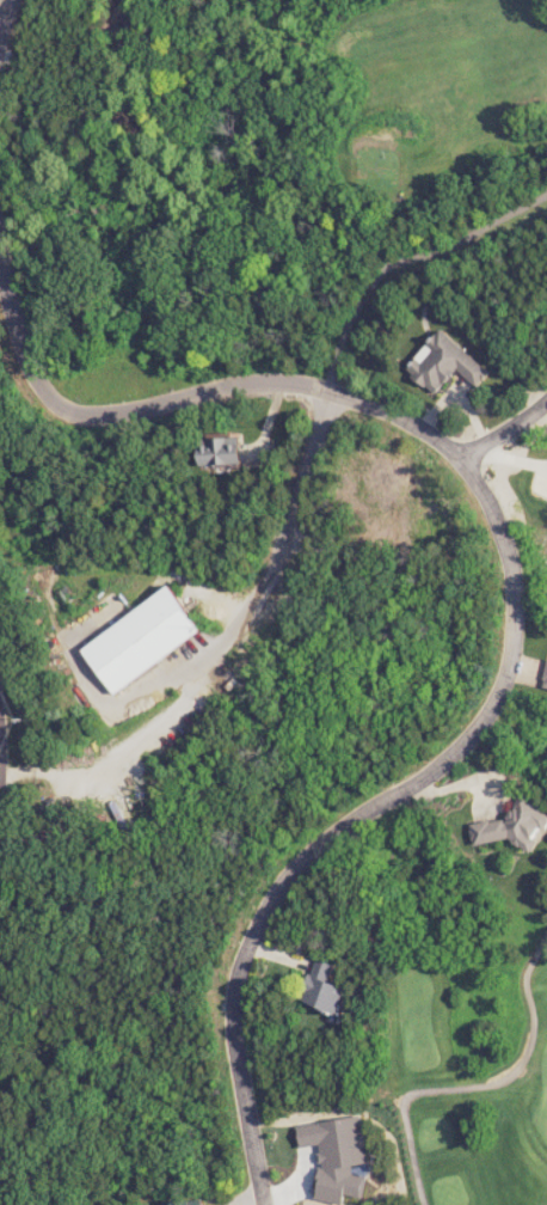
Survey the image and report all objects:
park: (426, 102)
building: (450, 365)
road: (502, 435)
building: (226, 452)
road: (514, 460)
road: (481, 510)
building: (148, 641)
road: (518, 665)
building: (543, 667)
building: (546, 687)
building: (511, 826)
road: (271, 950)
building: (321, 987)
park: (465, 1059)
road: (512, 1060)
road: (235, 1095)
road: (299, 1144)
building: (334, 1154)
road: (408, 1160)
building: (183, 1203)

